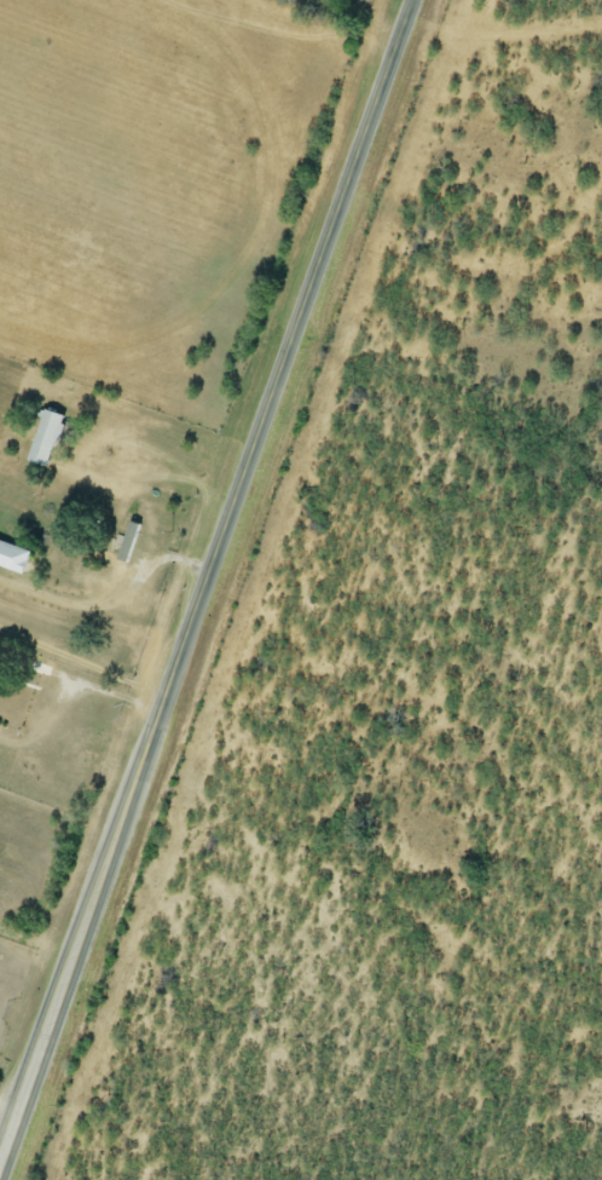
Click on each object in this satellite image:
building: (48, 436)
road: (154, 472)
building: (131, 540)
building: (16, 556)
road: (201, 577)
road: (109, 600)
road: (80, 667)

